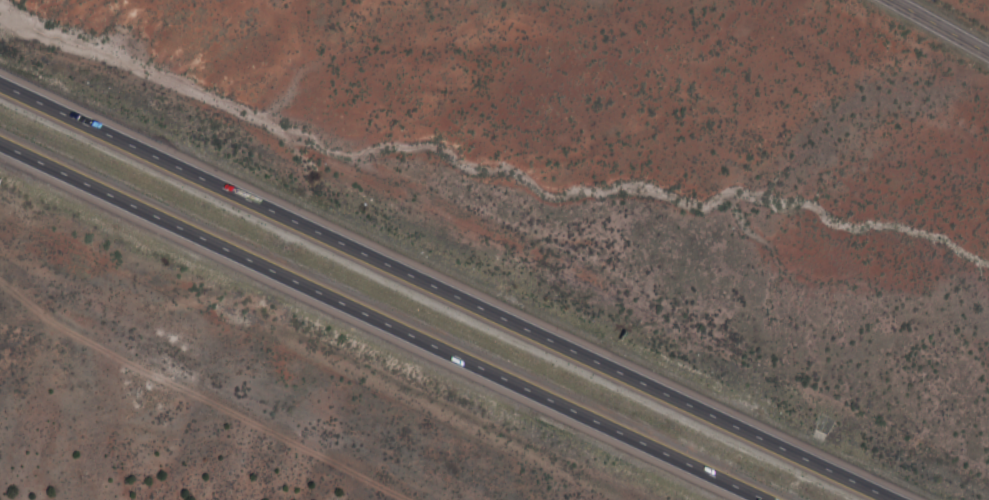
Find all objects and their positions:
road: (939, 26)
road: (448, 292)
road: (380, 322)

